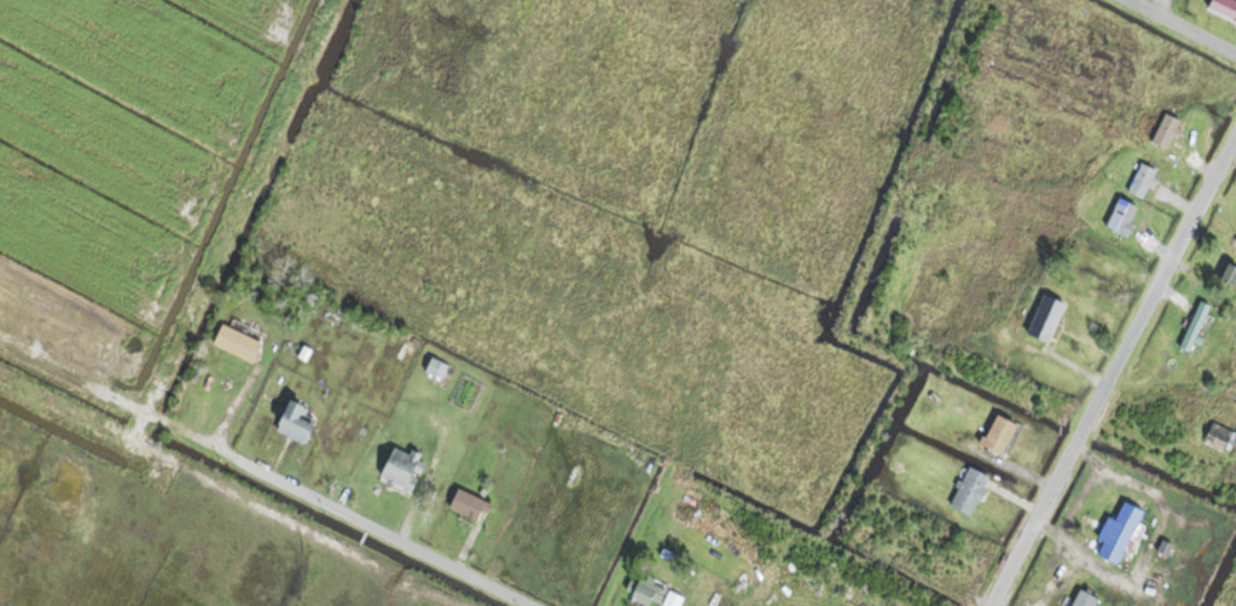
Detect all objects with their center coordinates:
building: (1223, 7)
road: (1189, 23)
building: (1166, 129)
building: (1142, 179)
building: (1121, 215)
building: (1229, 272)
building: (1045, 316)
building: (1195, 325)
building: (236, 340)
building: (436, 367)
road: (1112, 369)
building: (295, 418)
building: (999, 432)
building: (1218, 435)
building: (402, 465)
building: (968, 489)
building: (469, 503)
road: (371, 529)
building: (1120, 530)
building: (652, 592)
building: (1081, 598)

